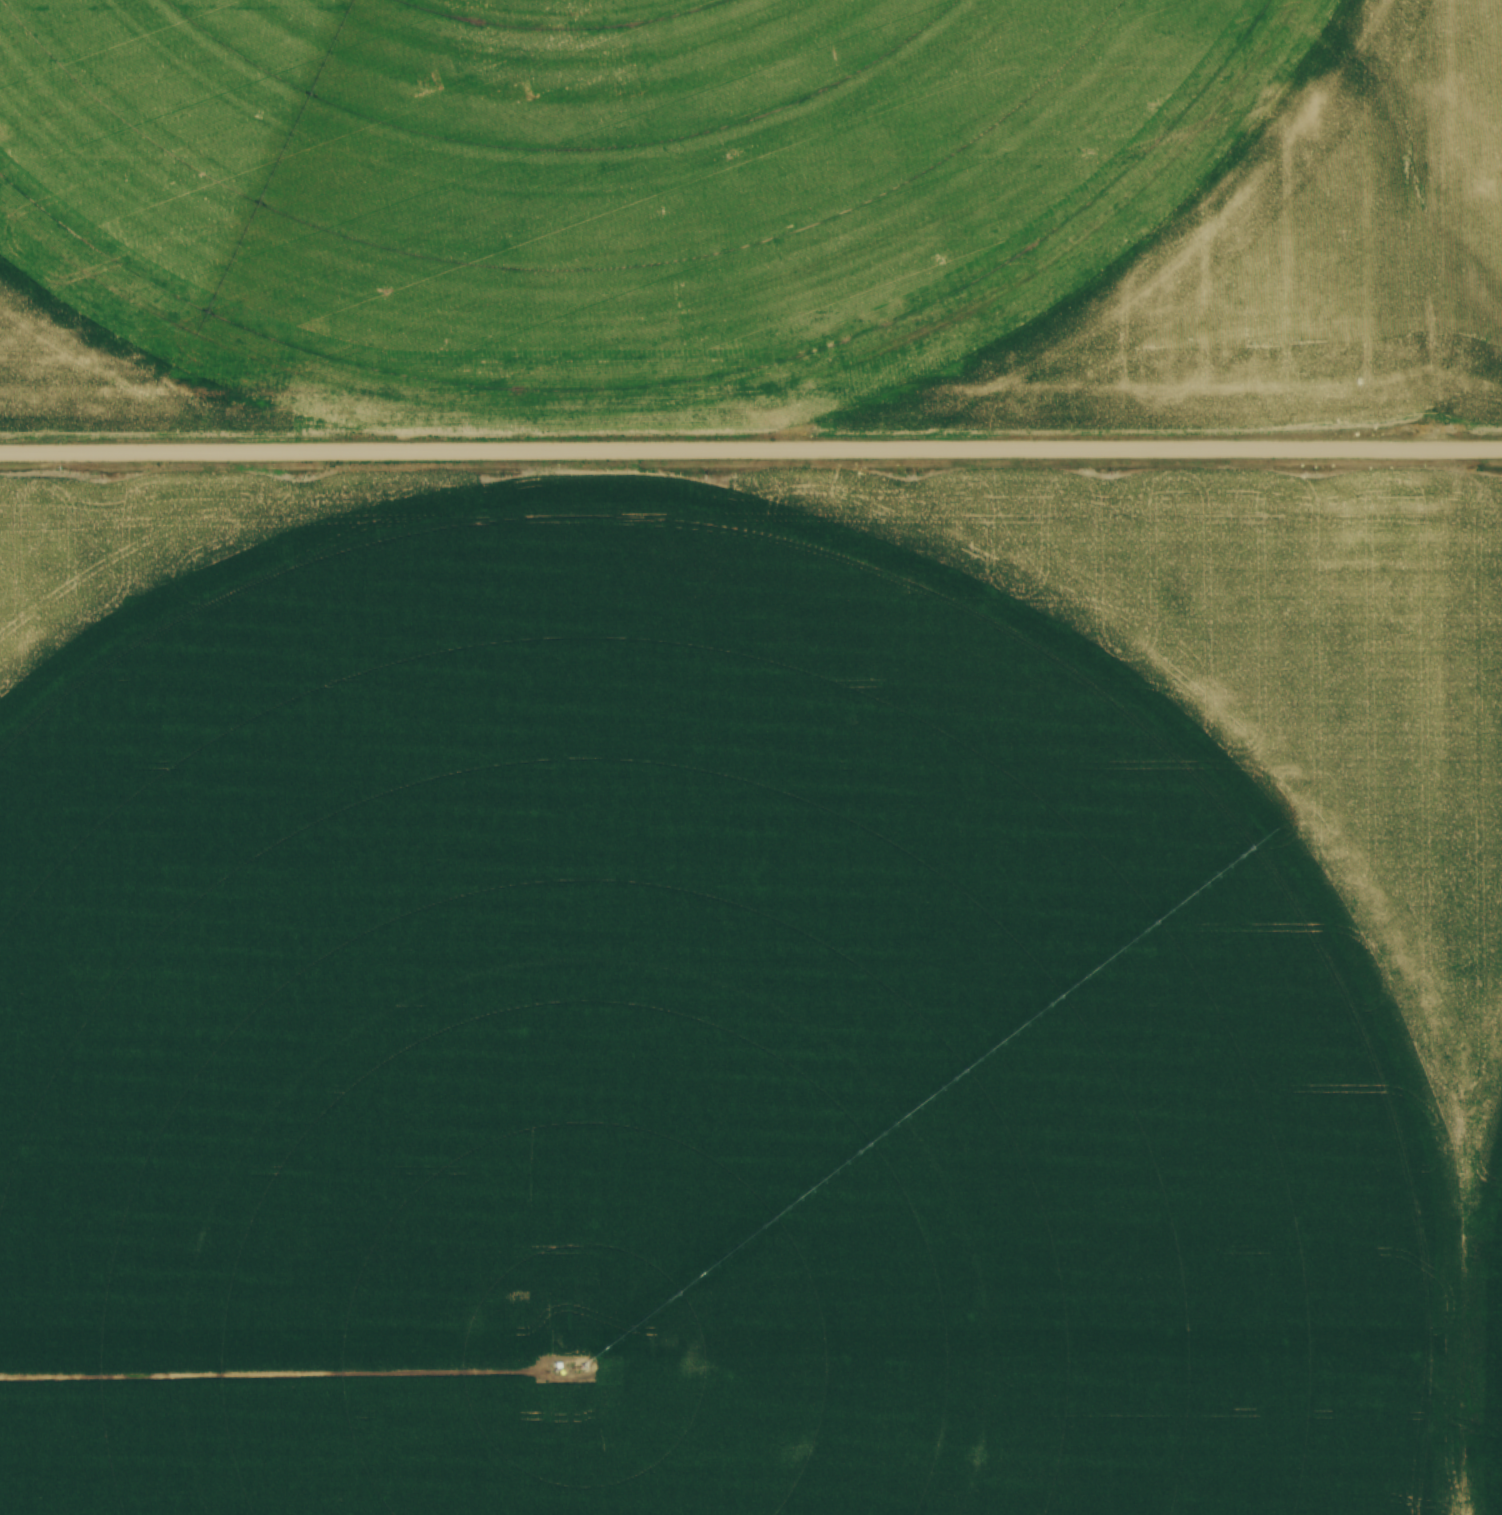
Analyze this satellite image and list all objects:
crop: (749, 214)
road: (751, 455)
crop: (750, 996)

